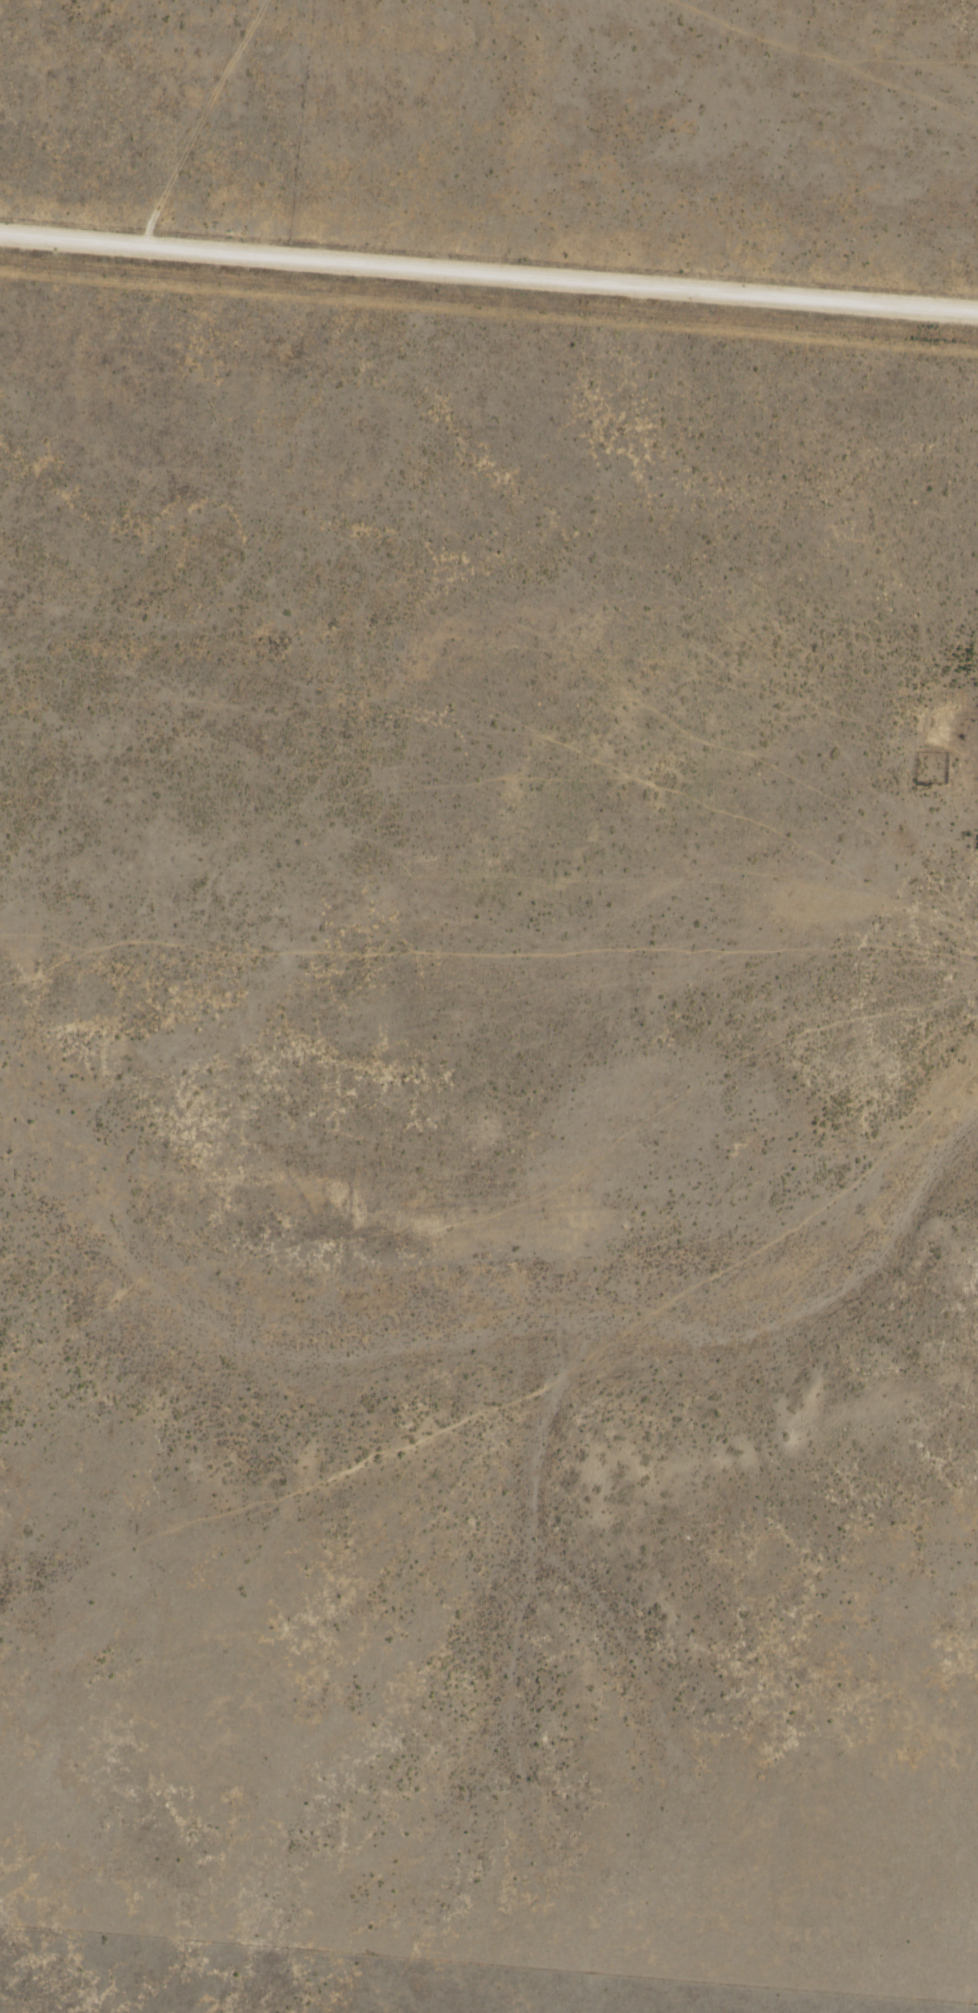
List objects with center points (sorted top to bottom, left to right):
road: (201, 132)
road: (489, 279)
road: (928, 817)

